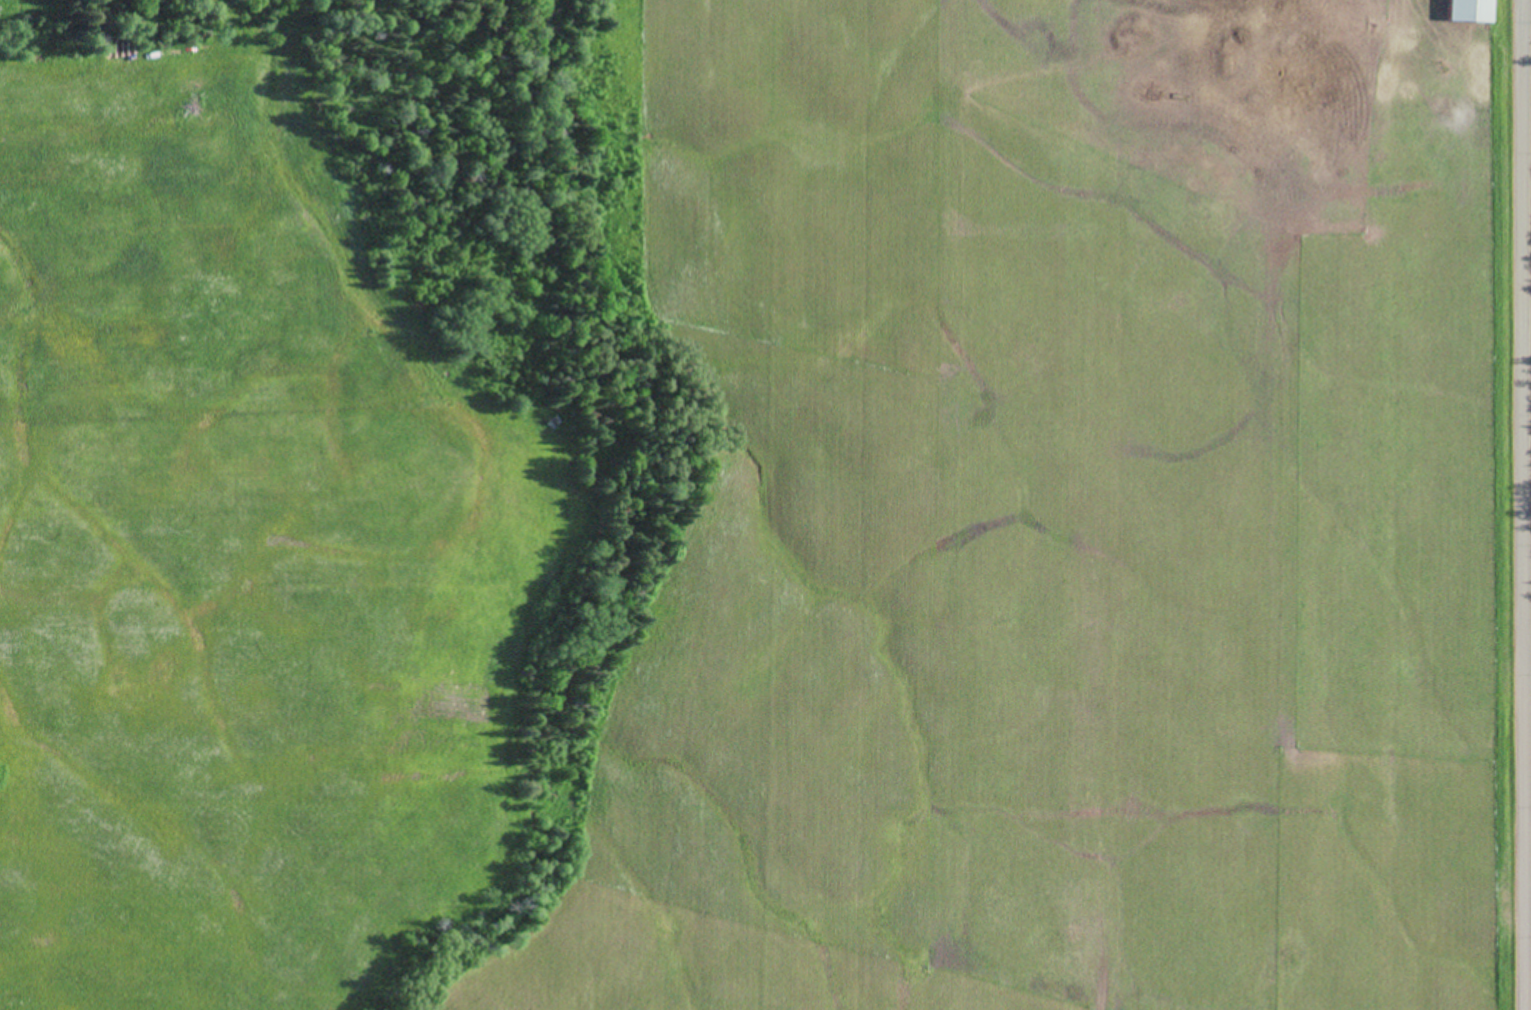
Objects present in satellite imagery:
building: (1465, 11)
road: (1524, 505)

